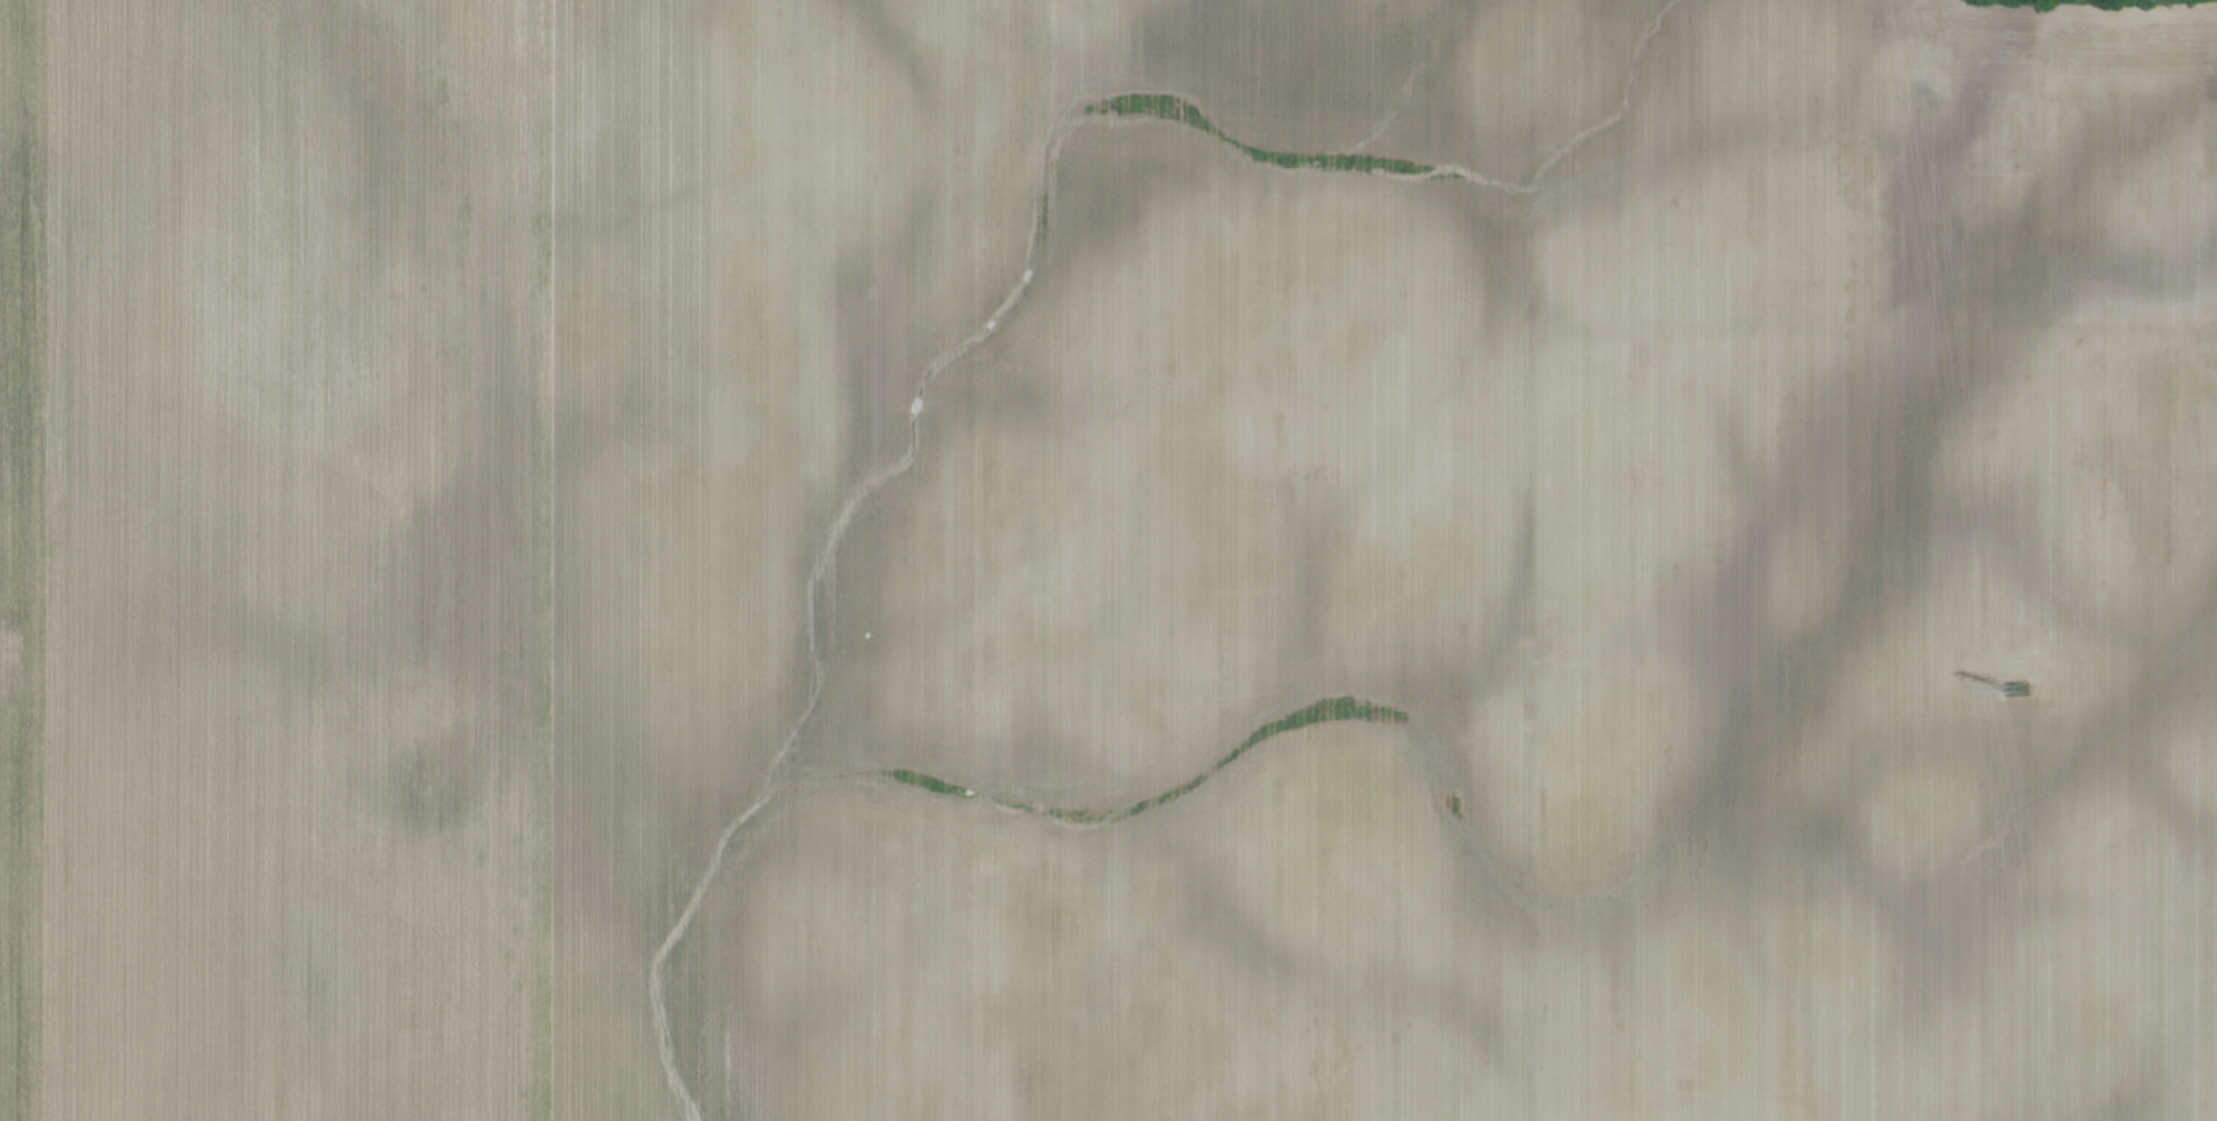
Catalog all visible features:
power tower: (2023, 688)

